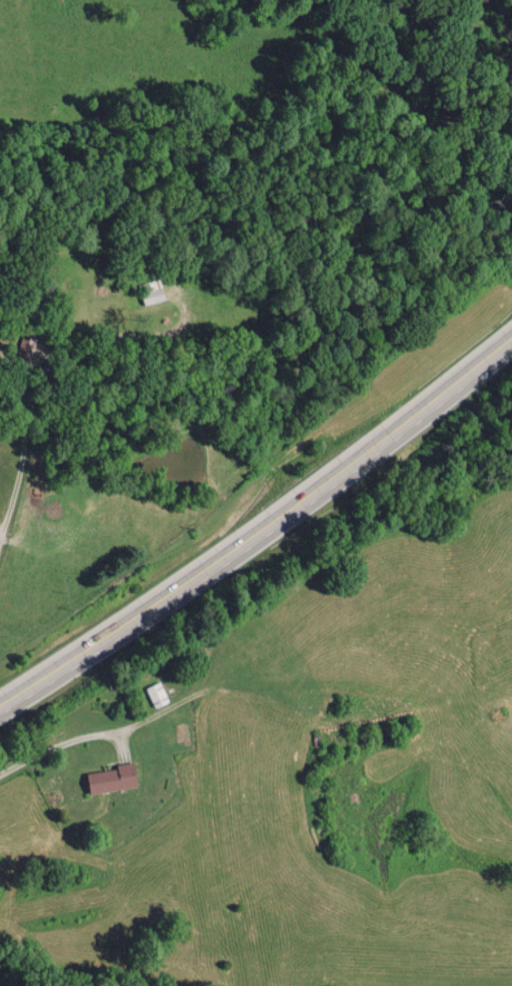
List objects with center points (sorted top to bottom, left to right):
building: (153, 295)
road: (263, 528)
building: (157, 694)
building: (112, 778)

